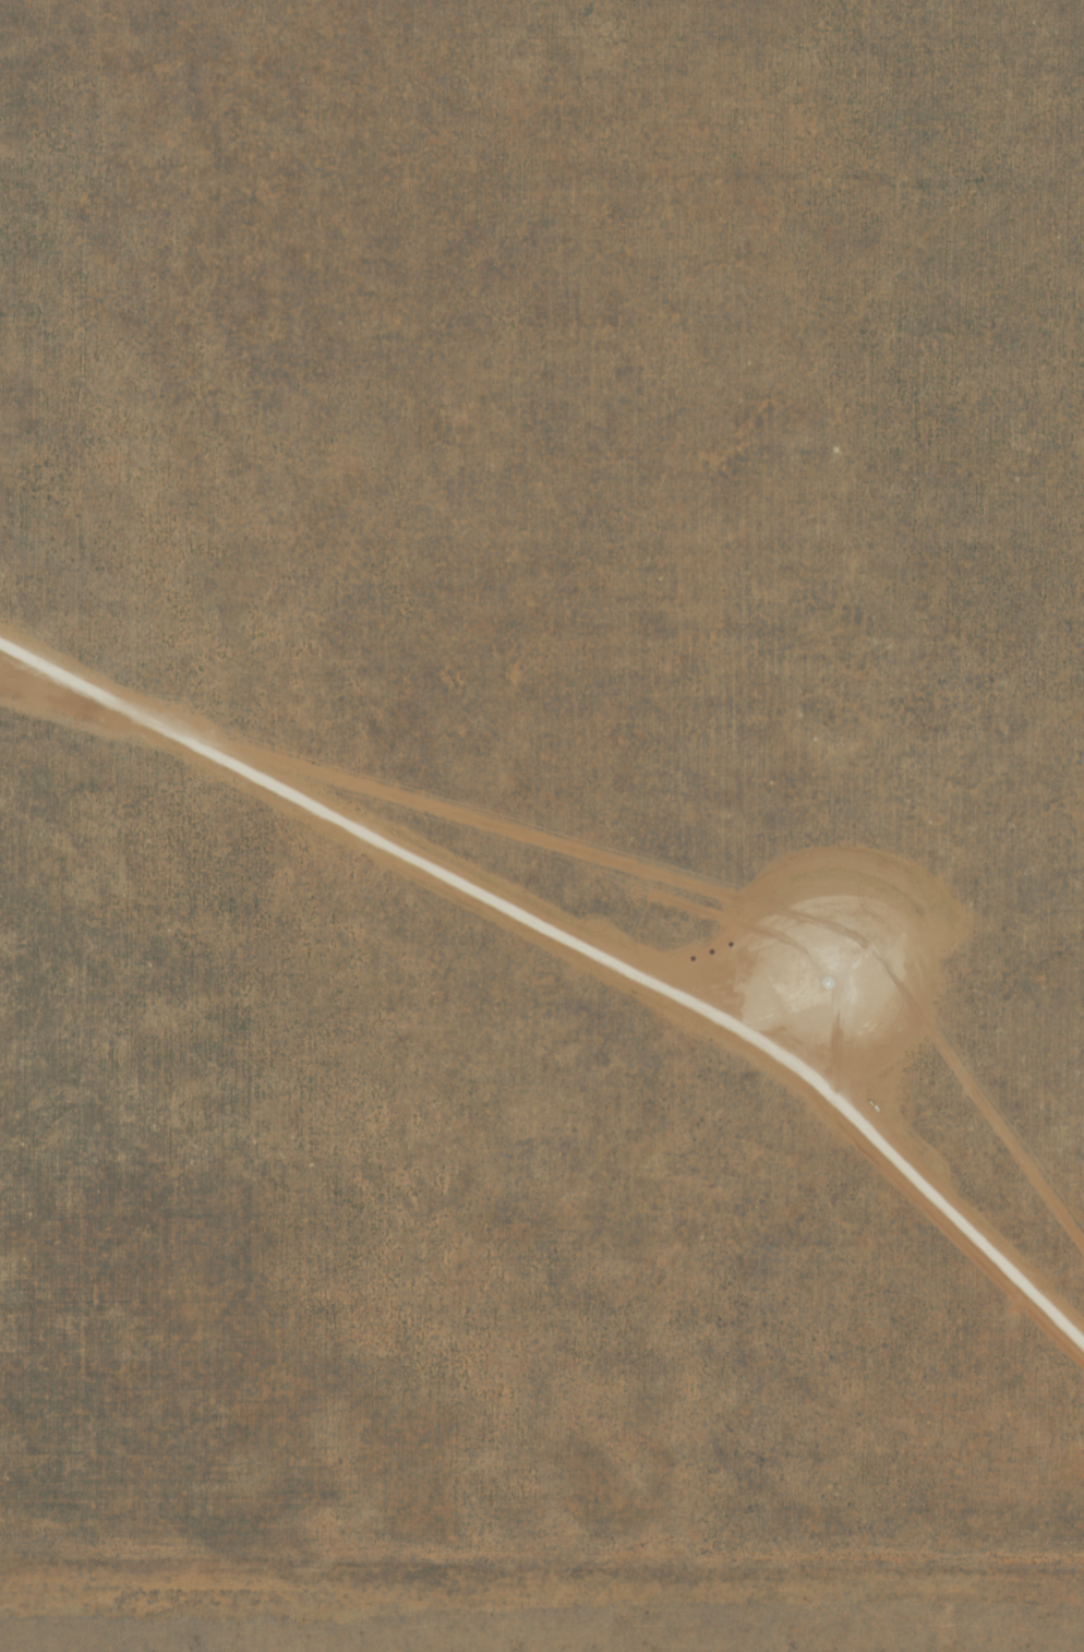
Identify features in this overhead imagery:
wind turbine: (810, 957)

